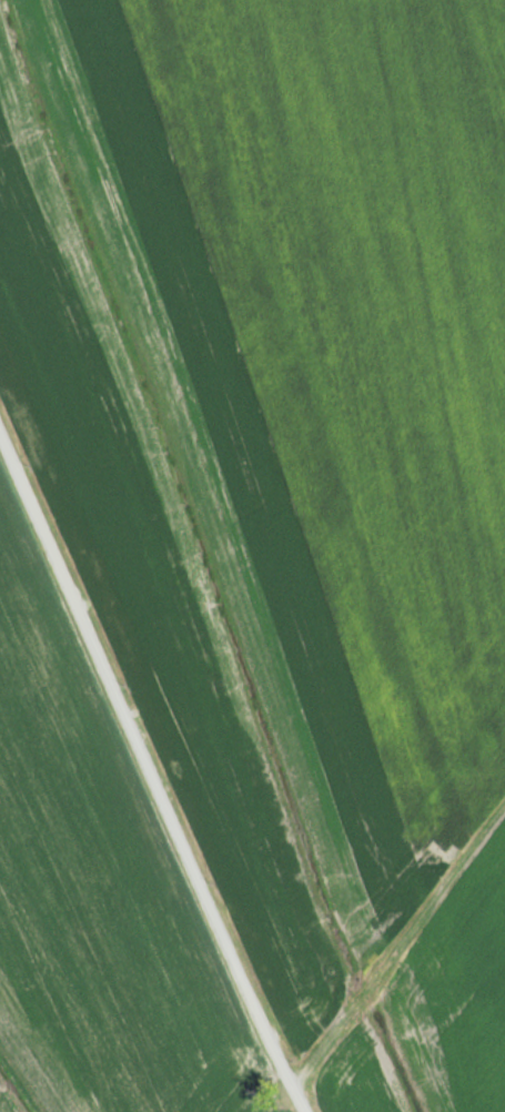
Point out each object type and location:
road: (153, 770)
road: (398, 947)

